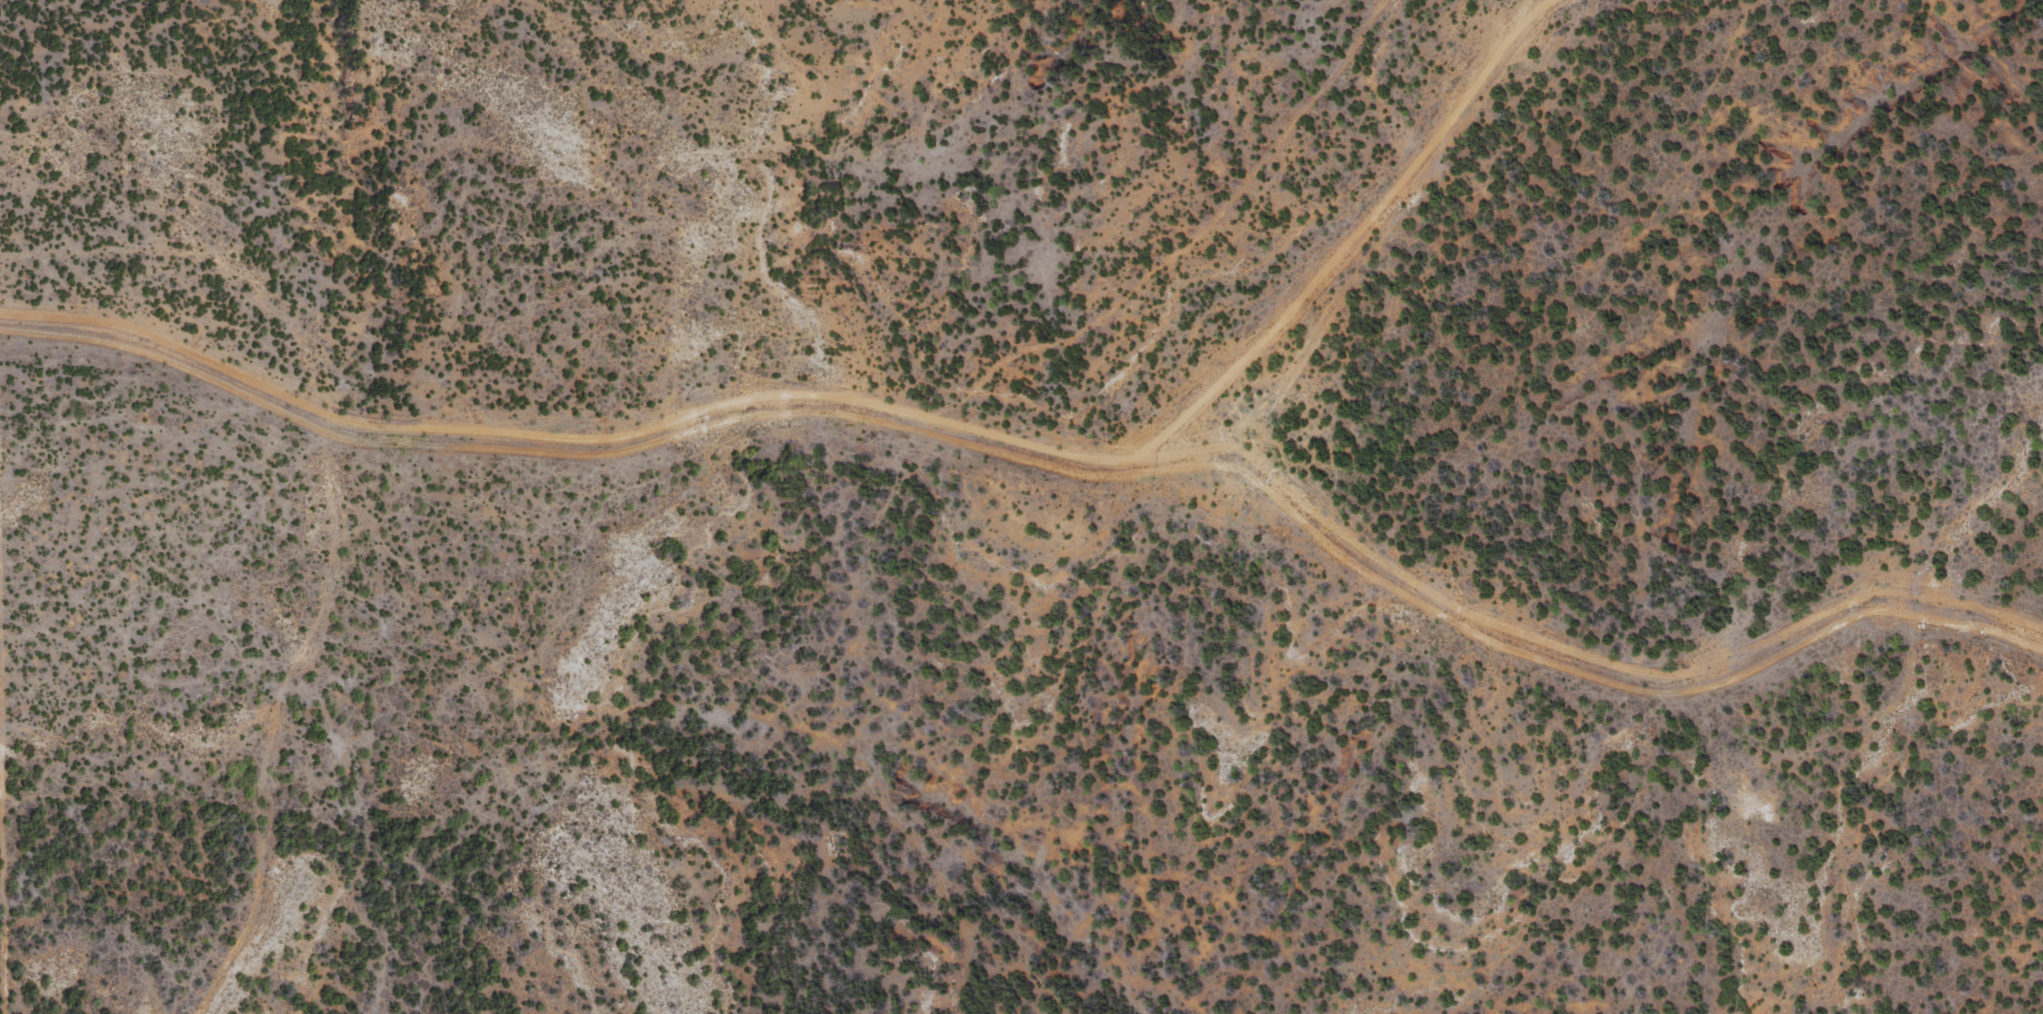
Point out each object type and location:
road: (1369, 220)
road: (1035, 440)
road: (1616, 839)

